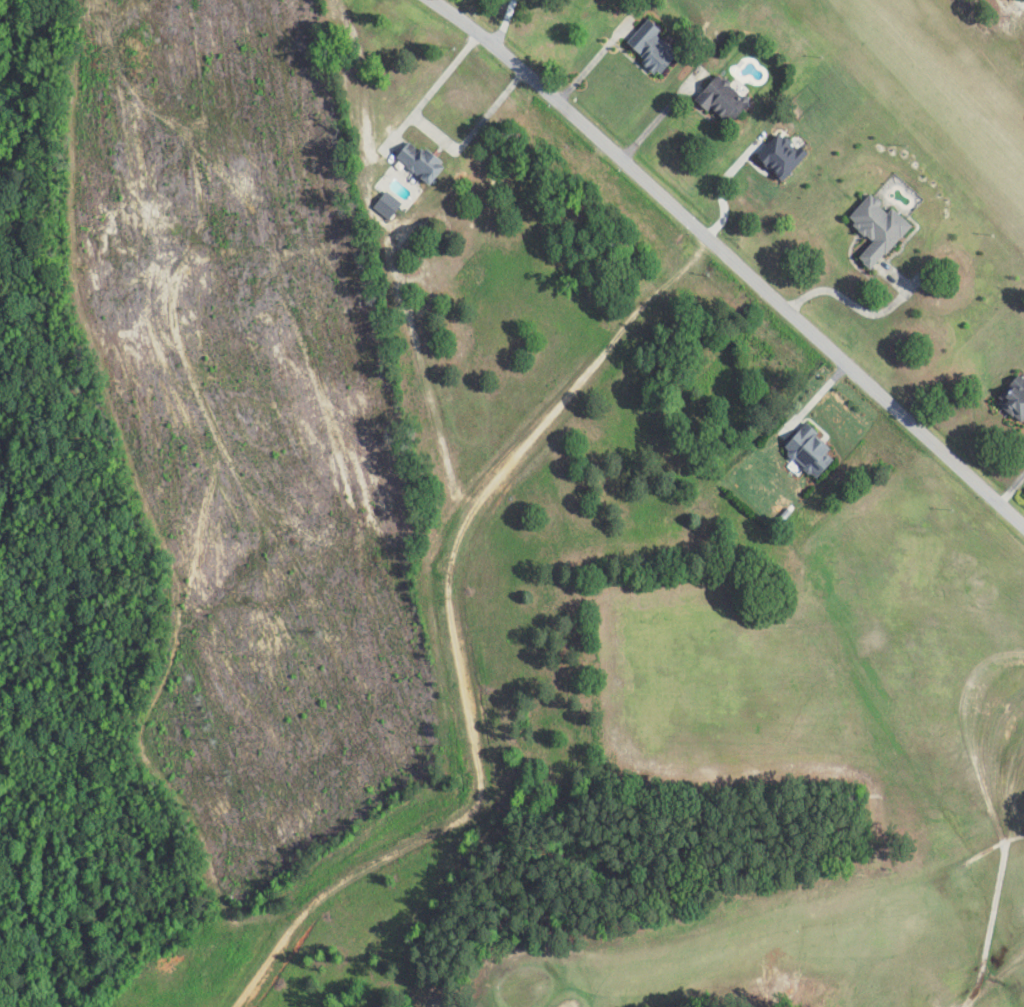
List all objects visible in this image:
building: (658, 47)
building: (726, 99)
building: (417, 162)
building: (880, 229)
road: (724, 247)
building: (1015, 398)
building: (811, 450)
road: (456, 637)

